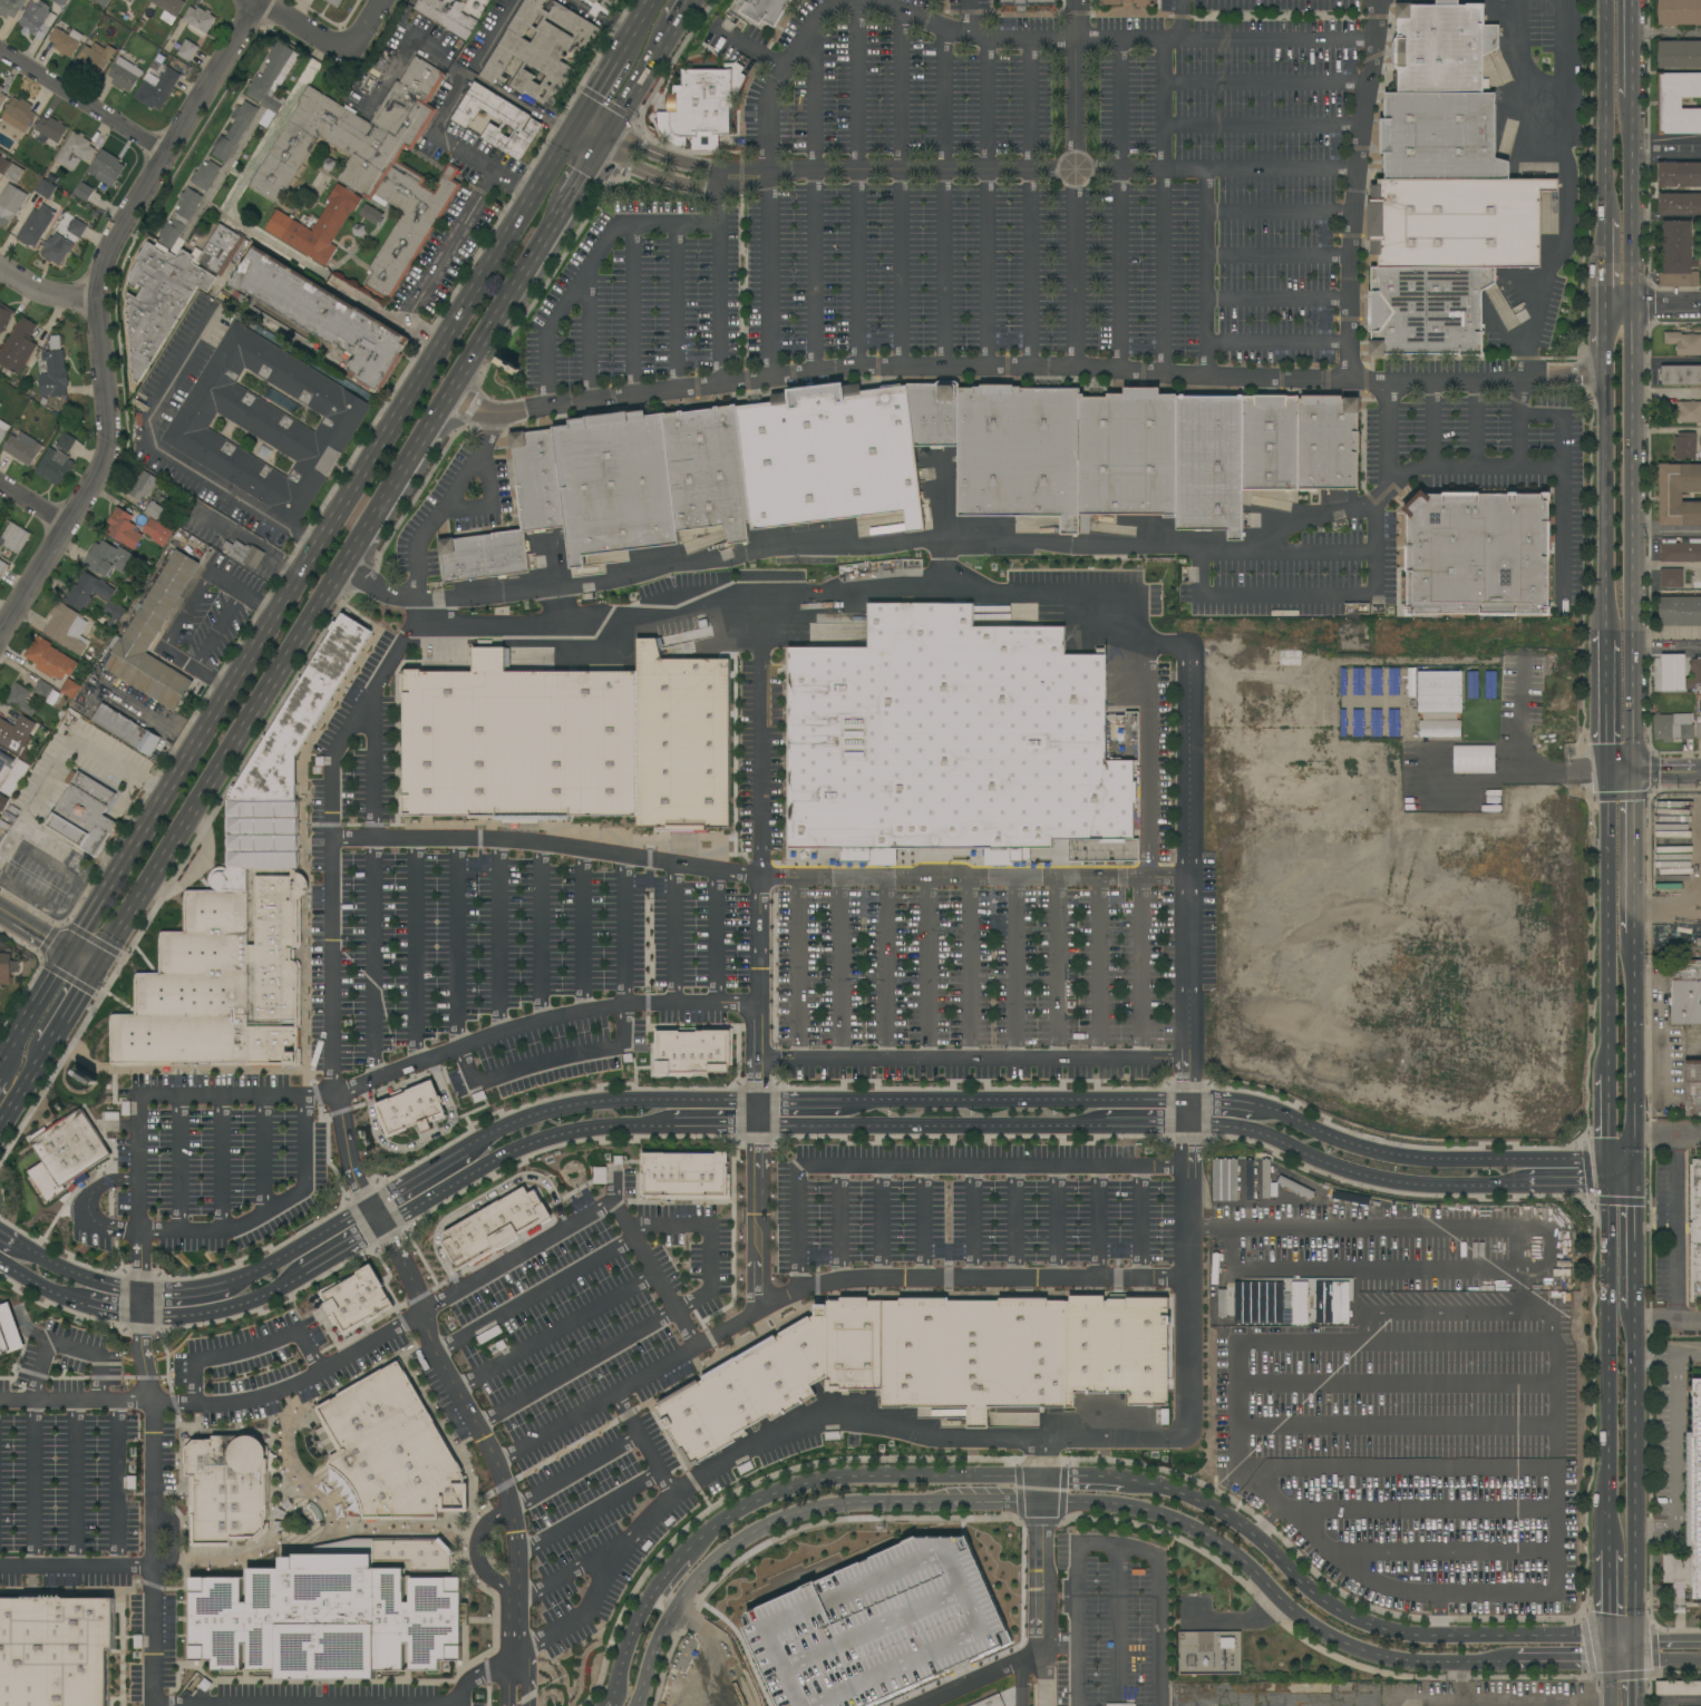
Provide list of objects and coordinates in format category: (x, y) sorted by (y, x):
building: (128, 0)
building: (489, 0)
building: (60, 2)
building: (101, 2)
building: (333, 2)
building: (1128, 2)
building: (1027, 3)
building: (601, 6)
building: (10, 7)
building: (168, 9)
building: (764, 10)
building: (1679, 12)
building: (448, 14)
road: (682, 14)
road: (969, 17)
building: (35, 19)
road: (1179, 19)
building: (197, 20)
road: (297, 26)
road: (363, 26)
road: (638, 27)
road: (1004, 37)
building: (65, 41)
road: (1632, 48)
building: (186, 49)
building: (538, 49)
road: (748, 49)
building: (1680, 55)
building: (96, 57)
building: (377, 66)
road: (468, 66)
building: (124, 74)
road: (643, 80)
road: (1076, 85)
road: (1264, 85)
building: (1, 88)
building: (157, 89)
road: (600, 90)
building: (2, 98)
building: (703, 100)
road: (81, 103)
building: (1678, 103)
road: (518, 104)
road: (1605, 108)
building: (18, 114)
building: (514, 120)
building: (477, 123)
traffic signals: (577, 126)
building: (50, 128)
road: (1261, 130)
traffic signals: (614, 131)
road: (609, 140)
road: (1668, 142)
traffic signals: (603, 149)
building: (75, 150)
building: (3, 164)
road: (478, 166)
building: (106, 167)
road: (1061, 169)
building: (13, 173)
building: (362, 173)
building: (1679, 174)
road: (586, 176)
road: (766, 176)
road: (857, 184)
building: (46, 188)
road: (1351, 188)
building: (1444, 189)
road: (898, 191)
building: (84, 192)
road: (1566, 194)
parking lot: (988, 197)
road: (814, 198)
road: (941, 198)
road: (1636, 202)
building: (10, 203)
building: (1679, 203)
road: (984, 204)
road: (1029, 204)
road: (1118, 206)
road: (1163, 207)
road: (1279, 213)
building: (188, 214)
building: (370, 214)
building: (36, 225)
road: (647, 226)
building: (61, 241)
road: (544, 244)
road: (446, 247)
building: (1676, 255)
road: (1276, 260)
building: (1700, 262)
road: (1603, 263)
road: (1073, 271)
road: (1207, 272)
road: (772, 276)
road: (332, 280)
road: (45, 294)
road: (1276, 302)
road: (1670, 308)
road: (675, 309)
road: (1621, 309)
road: (95, 311)
road: (633, 311)
building: (4, 314)
building: (322, 316)
road: (1637, 334)
road: (589, 337)
road: (486, 341)
building: (1684, 342)
road: (1276, 344)
road: (1603, 344)
building: (19, 347)
road: (1669, 360)
building: (509, 365)
road: (1023, 371)
building: (52, 374)
building: (1681, 374)
road: (1637, 377)
road: (1669, 392)
road: (1517, 394)
building: (0, 403)
building: (1689, 411)
building: (265, 421)
road: (1432, 425)
road: (1476, 425)
building: (2, 429)
building: (65, 441)
road: (153, 446)
building: (1684, 446)
building: (22, 447)
building: (1053, 448)
parking lot: (1481, 450)
building: (1258, 451)
building: (829, 456)
road: (1561, 461)
building: (54, 467)
road: (406, 468)
building: (708, 470)
road: (1429, 470)
building: (143, 485)
road: (1604, 493)
building: (580, 494)
building: (1679, 494)
road: (486, 499)
road: (35, 501)
road: (445, 503)
parking lot: (454, 507)
building: (153, 509)
road: (1301, 514)
building: (123, 528)
building: (156, 532)
road: (240, 534)
building: (14, 537)
road: (303, 537)
road: (323, 537)
road: (892, 546)
building: (1680, 550)
building: (243, 553)
building: (1477, 554)
building: (106, 558)
road: (293, 565)
building: (2, 567)
road: (941, 569)
parking lot: (1303, 573)
building: (1671, 577)
road: (1634, 583)
road: (272, 586)
road: (242, 593)
road: (1285, 595)
building: (77, 598)
building: (1680, 610)
road: (185, 611)
road: (1605, 617)
building: (67, 628)
road: (216, 630)
building: (153, 637)
road: (1179, 645)
road: (1668, 647)
building: (49, 659)
road: (195, 669)
building: (1679, 673)
road: (757, 686)
building: (69, 688)
building: (42, 689)
building: (20, 699)
road: (1606, 701)
road: (147, 714)
building: (1673, 727)
building: (126, 729)
building: (1698, 731)
building: (16, 733)
building: (680, 740)
building: (518, 741)
building: (954, 742)
road: (89, 748)
road: (229, 753)
road: (1527, 757)
road: (1145, 761)
building: (4, 766)
road: (1698, 772)
road: (1620, 773)
road: (1663, 773)
building: (12, 777)
building: (2, 801)
building: (82, 810)
building: (39, 846)
road: (1632, 862)
road: (755, 875)
road: (373, 884)
road: (327, 895)
road: (1666, 906)
road: (8, 910)
building: (240, 913)
road: (1605, 924)
road: (625, 928)
road: (582, 929)
road: (542, 932)
road: (42, 933)
road: (672, 933)
road: (499, 935)
road: (718, 936)
road: (457, 942)
traffic signals: (70, 949)
road: (416, 949)
road: (82, 957)
traffic signals: (96, 966)
road: (798, 966)
road: (840, 966)
road: (886, 966)
road: (926, 966)
road: (971, 966)
road: (1017, 966)
road: (1056, 966)
road: (1099, 966)
road: (1140, 966)
building: (7, 967)
building: (1685, 991)
road: (35, 1006)
road: (71, 1006)
building: (692, 1052)
road: (1633, 1054)
road: (969, 1055)
road: (547, 1059)
road: (23, 1083)
road: (353, 1085)
building: (1693, 1088)
road: (798, 1099)
road: (1013, 1099)
road: (604, 1101)
road: (1218, 1102)
building: (409, 1108)
road: (1604, 1114)
road: (712, 1123)
road: (929, 1123)
road: (1144, 1124)
road: (1666, 1131)
road: (421, 1143)
road: (516, 1148)
building: (64, 1153)
road: (262, 1153)
road: (1425, 1156)
traffic signals: (1605, 1156)
road: (1619, 1156)
traffic signals: (1633, 1156)
road: (181, 1161)
road: (222, 1161)
road: (927, 1166)
road: (1605, 1168)
road: (1633, 1168)
road: (1350, 1169)
building: (683, 1174)
building: (1265, 1174)
building: (1223, 1179)
building: (1248, 1179)
road: (417, 1180)
traffic signals: (1606, 1181)
road: (1620, 1181)
traffic signals: (1633, 1181)
road: (1564, 1183)
road: (1606, 1201)
road: (88, 1206)
road: (754, 1206)
road: (271, 1208)
road: (1141, 1220)
road: (1056, 1221)
road: (1099, 1221)
road: (971, 1222)
road: (1013, 1222)
road: (838, 1224)
road: (881, 1224)
road: (921, 1224)
road: (1675, 1225)
building: (493, 1226)
building: (1694, 1228)
road: (708, 1232)
road: (6, 1240)
road: (294, 1248)
road: (340, 1248)
road: (1544, 1250)
road: (1633, 1250)
road: (398, 1259)
road: (652, 1270)
road: (1606, 1270)
road: (75, 1274)
road: (883, 1280)
road: (35, 1285)
road: (181, 1293)
road: (532, 1293)
building: (357, 1298)
building: (1286, 1302)
road: (106, 1307)
road: (1456, 1308)
road: (224, 1309)
road: (1668, 1319)
road: (553, 1329)
building: (7, 1330)
road: (1183, 1336)
road: (246, 1344)
road: (65, 1347)
road: (1666, 1348)
building: (930, 1362)
road: (575, 1367)
road: (1634, 1375)
road: (1393, 1380)
road: (292, 1381)
road: (1554, 1383)
road: (453, 1390)
road: (75, 1405)
road: (1394, 1424)
road: (1676, 1431)
road: (1606, 1433)
road: (642, 1443)
building: (391, 1449)
road: (1040, 1456)
road: (1397, 1464)
road: (573, 1468)
road: (840, 1476)
road: (663, 1479)
road: (35, 1484)
road: (72, 1484)
road: (117, 1485)
road: (1040, 1485)
building: (226, 1489)
road: (1041, 1498)
road: (150, 1499)
road: (839, 1504)
road: (1421, 1511)
building: (1690, 1512)
road: (1041, 1522)
road: (1660, 1530)
road: (1632, 1533)
road: (1058, 1541)
road: (1115, 1546)
road: (1441, 1552)
building: (415, 1553)
road: (807, 1558)
road: (76, 1564)
road: (607, 1578)
road: (966, 1587)
road: (673, 1589)
road: (117, 1590)
road: (1309, 1592)
road: (1606, 1592)
road: (522, 1595)
road: (927, 1595)
road: (885, 1606)
road: (1439, 1614)
building: (327, 1619)
road: (846, 1622)
road: (1073, 1624)
road: (1115, 1626)
road: (1306, 1627)
road: (1156, 1631)
road: (628, 1632)
traffic signals: (1606, 1638)
road: (1619, 1638)
traffic signals: (1632, 1638)
road: (1666, 1638)
road: (807, 1639)
road: (1053, 1640)
road: (956, 1642)
road: (720, 1649)
building: (55, 1650)
road: (1024, 1651)
road: (1606, 1651)
road: (1632, 1651)
building: (1208, 1653)
road: (653, 1655)
traffic signals: (1607, 1666)
road: (1620, 1666)
traffic signals: (1632, 1666)
road: (1666, 1667)
road: (1043, 1673)
road: (1607, 1686)
road: (1632, 1686)
building: (1678, 1687)
road: (686, 1694)
road: (696, 1694)
road: (971, 1695)
road: (1392, 1700)
road: (1590, 1703)
road: (1195, 1704)
road: (929, 1705)

